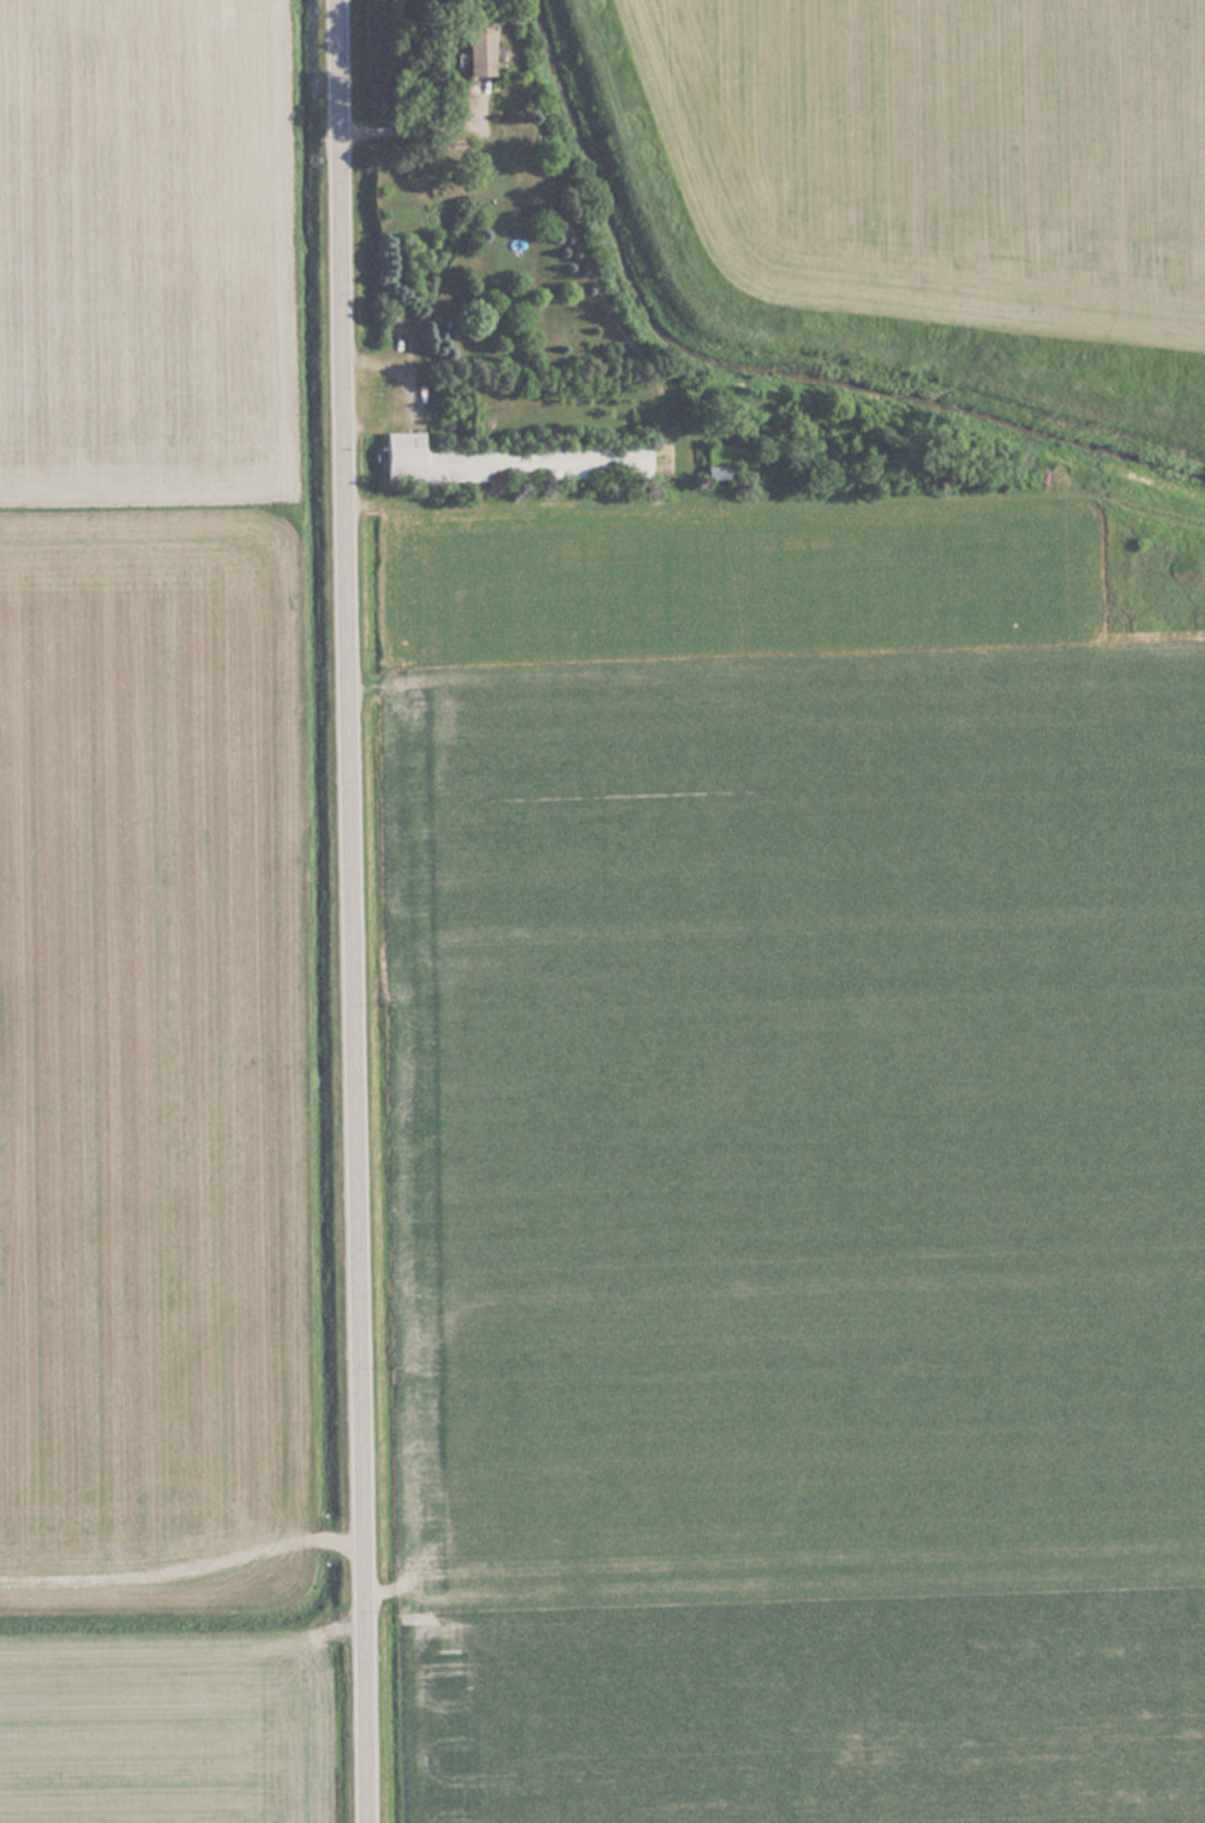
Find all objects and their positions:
building: (475, 53)
building: (505, 460)
road: (348, 911)

